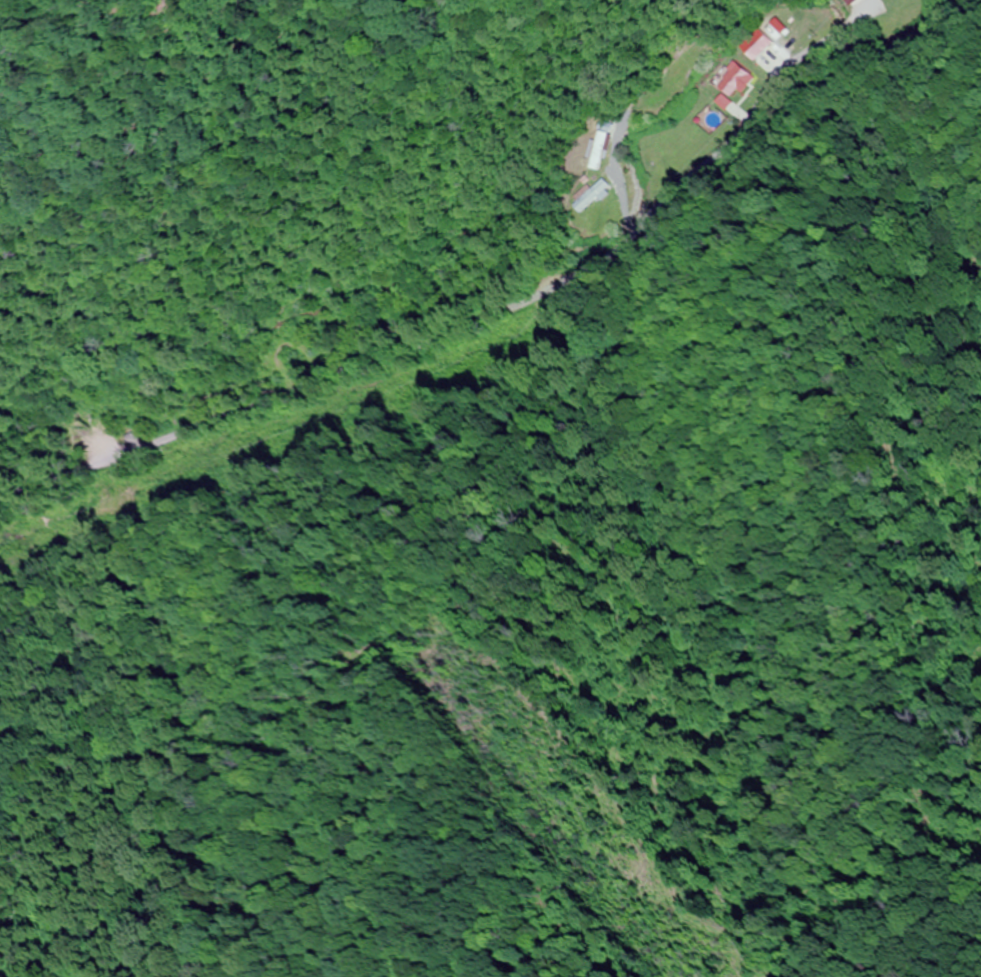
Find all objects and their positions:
building: (855, 2)
road: (58, 28)
building: (737, 81)
building: (602, 146)
building: (592, 195)
road: (544, 366)

